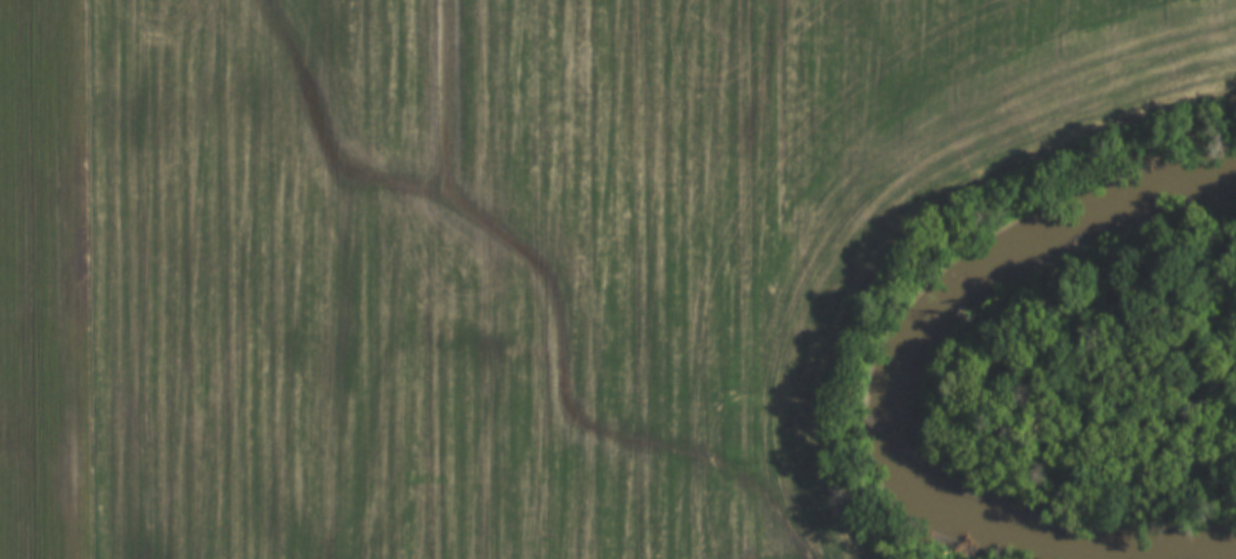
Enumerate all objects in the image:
river: (909, 403)

